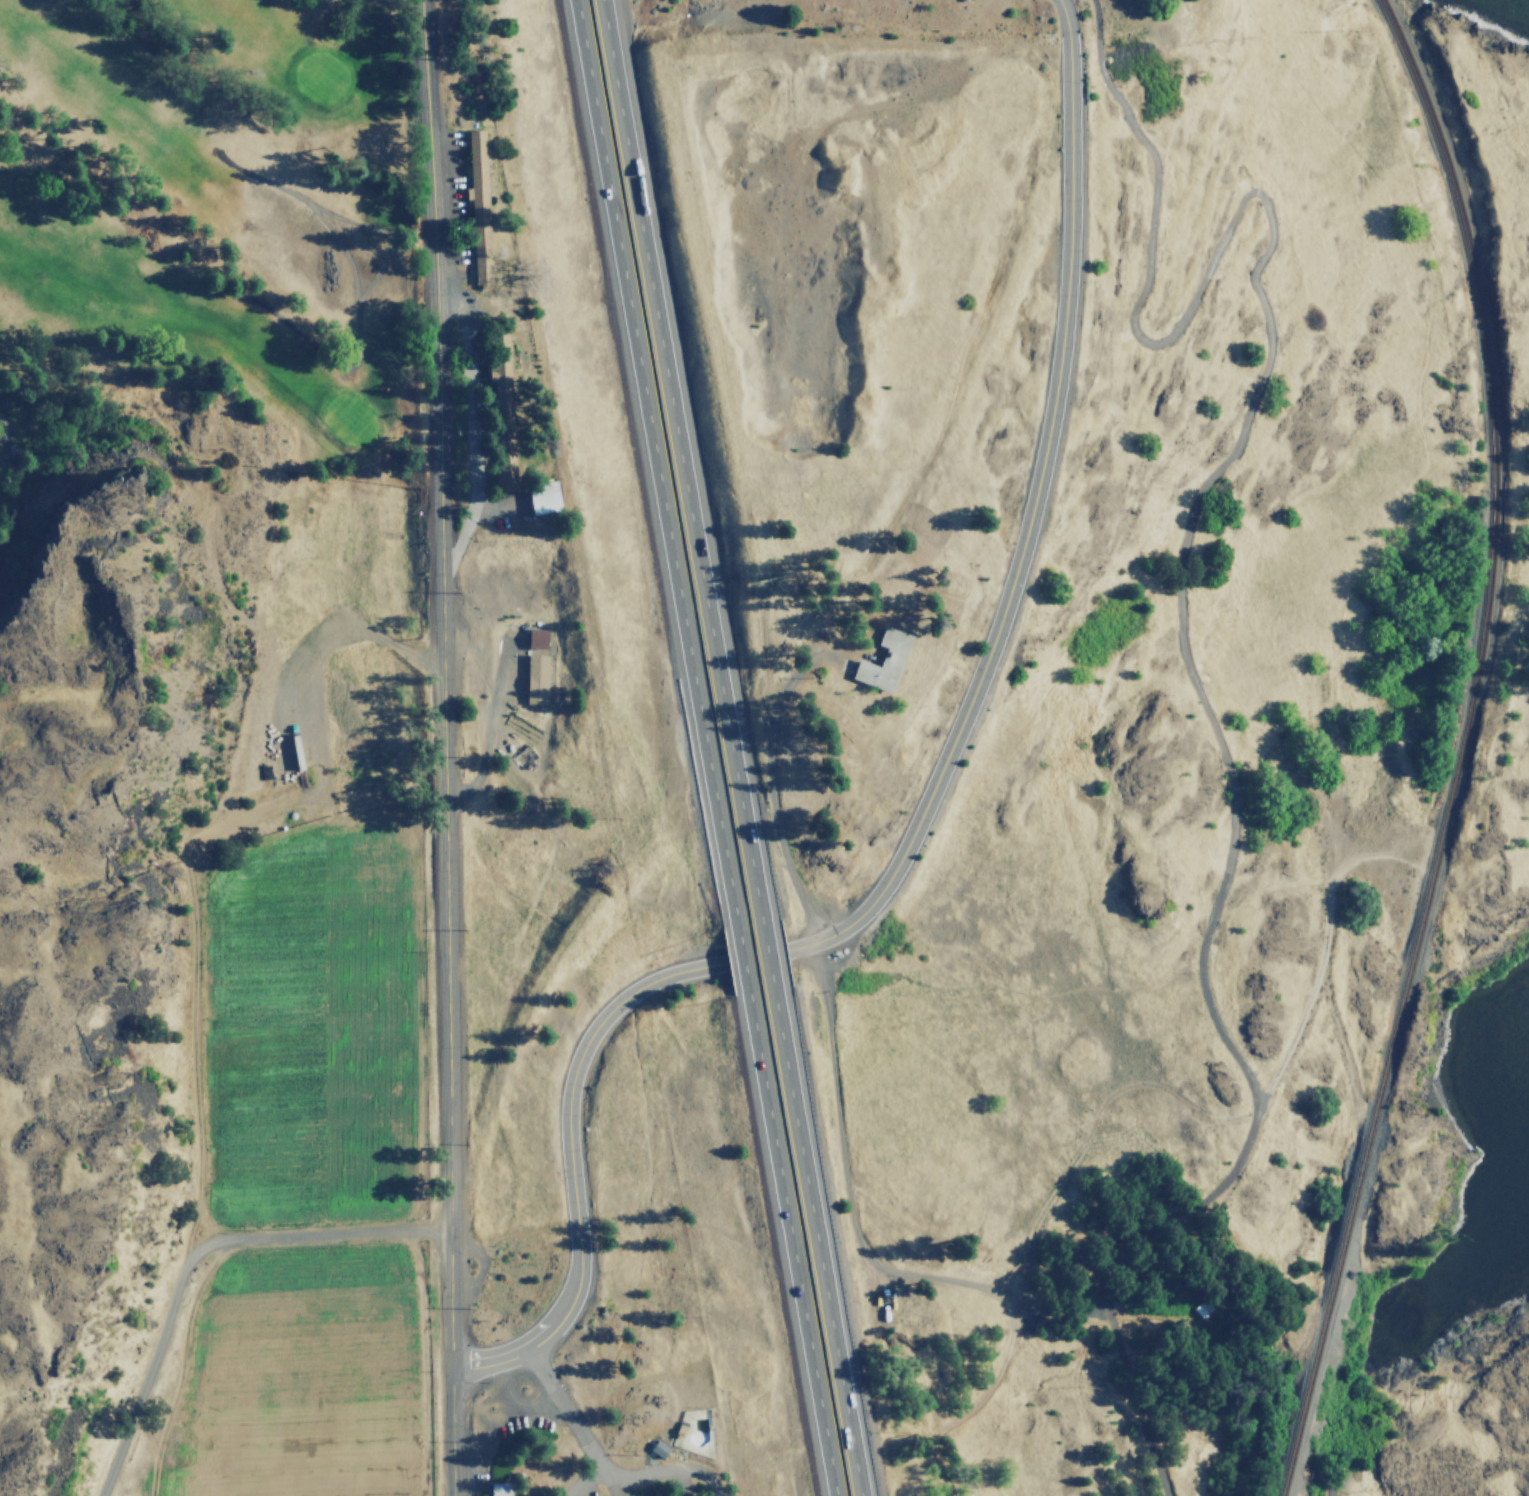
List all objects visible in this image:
building: (478, 205)
park: (214, 251)
road: (1069, 257)
road: (681, 460)
road: (649, 464)
building: (544, 498)
road: (1177, 599)
building: (537, 638)
building: (883, 661)
building: (535, 679)
road: (950, 743)
road: (445, 747)
railway: (1460, 748)
road: (765, 954)
road: (770, 954)
road: (738, 960)
road: (572, 1166)
road: (819, 1241)
road: (788, 1243)
road: (194, 1253)
road: (566, 1412)
building: (659, 1449)
road: (1236, 1468)
road: (666, 1470)
road: (1327, 1479)
road: (589, 1487)
road: (605, 1487)
building: (500, 1489)

